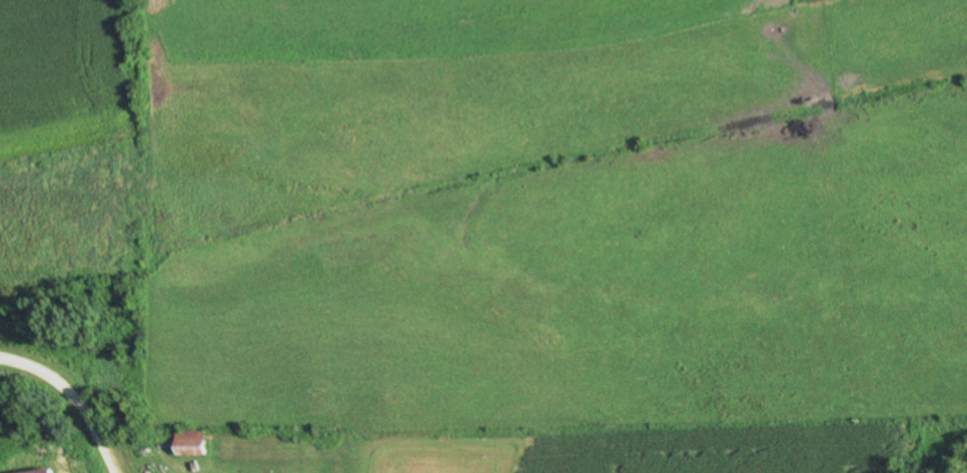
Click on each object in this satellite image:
road: (73, 396)

